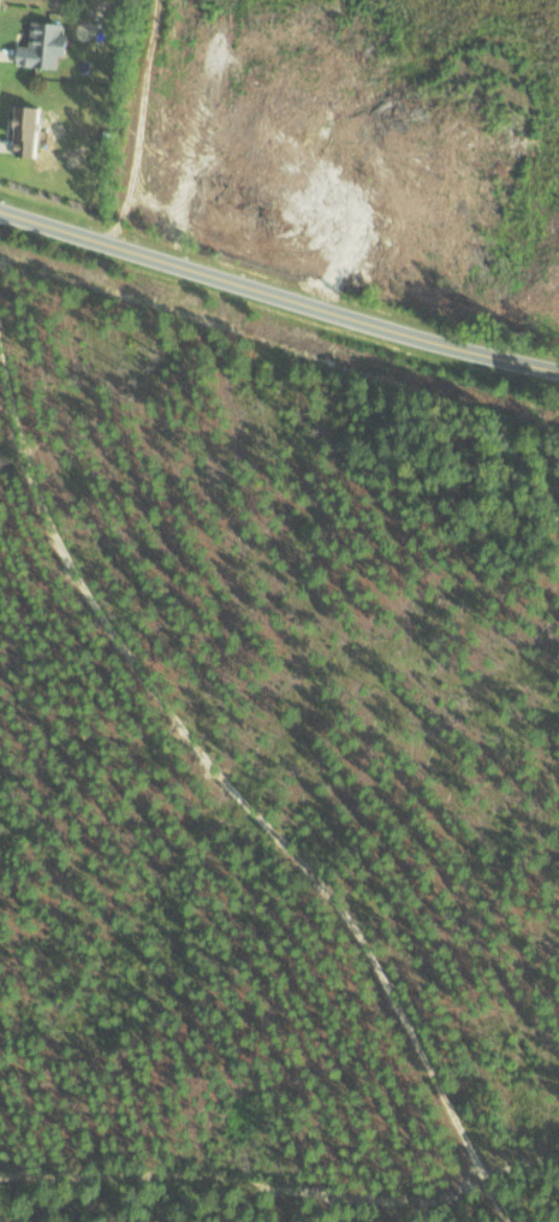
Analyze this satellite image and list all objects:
building: (49, 45)
building: (35, 130)
road: (279, 291)
road: (232, 791)

